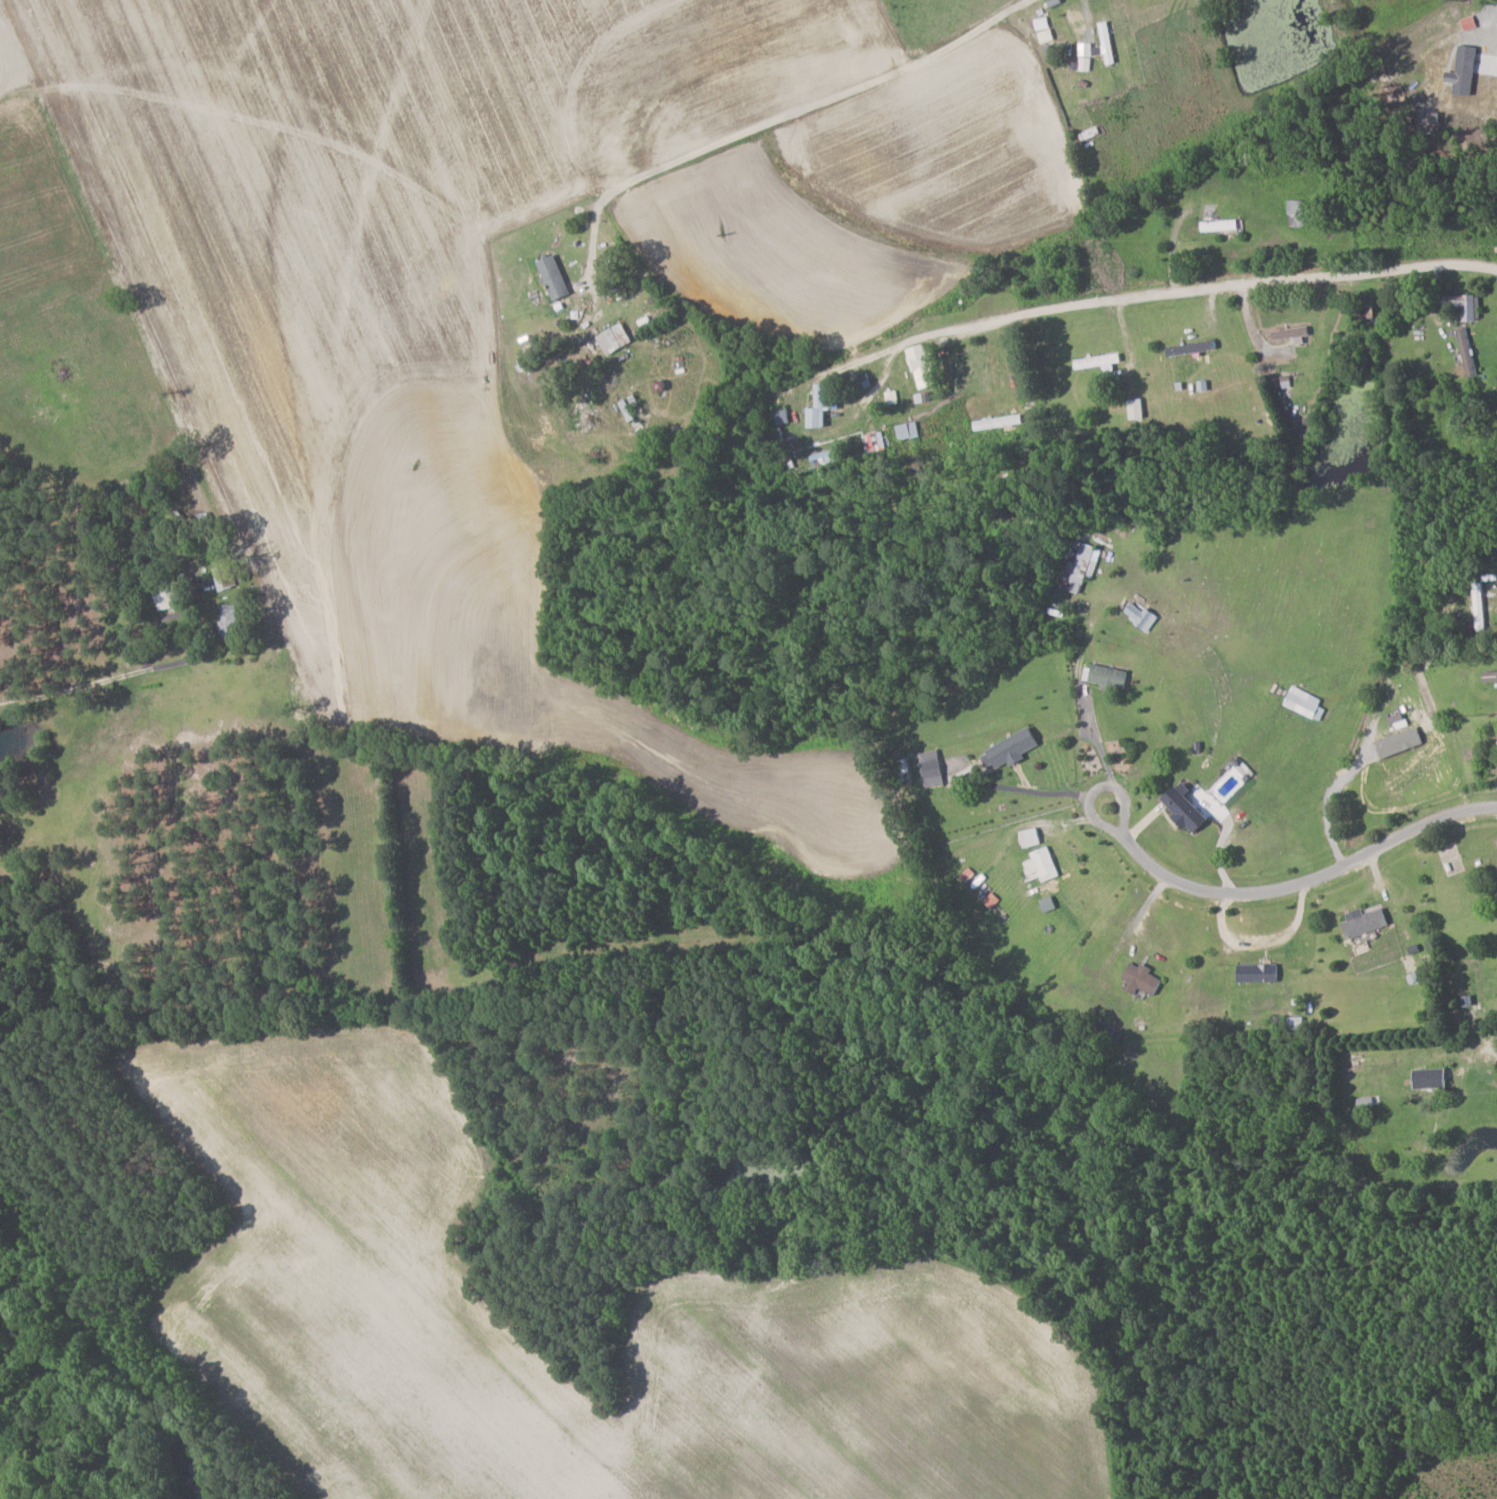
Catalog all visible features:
building: (1044, 29)
road: (785, 115)
building: (1300, 213)
building: (1222, 226)
building: (556, 277)
road: (1188, 289)
building: (1470, 307)
building: (617, 338)
building: (924, 364)
building: (630, 407)
building: (1137, 408)
building: (908, 430)
building: (874, 441)
building: (1080, 563)
building: (225, 577)
building: (172, 594)
building: (1143, 616)
building: (230, 620)
building: (1491, 675)
road: (76, 688)
building: (1305, 703)
building: (1013, 749)
road: (1102, 749)
building: (933, 768)
road: (1062, 793)
building: (1188, 809)
building: (1032, 837)
building: (1044, 865)
road: (1293, 886)
building: (981, 887)
building: (1045, 889)
building: (1367, 921)
building: (1260, 972)
building: (1143, 979)
road: (1496, 1042)
building: (1433, 1078)

